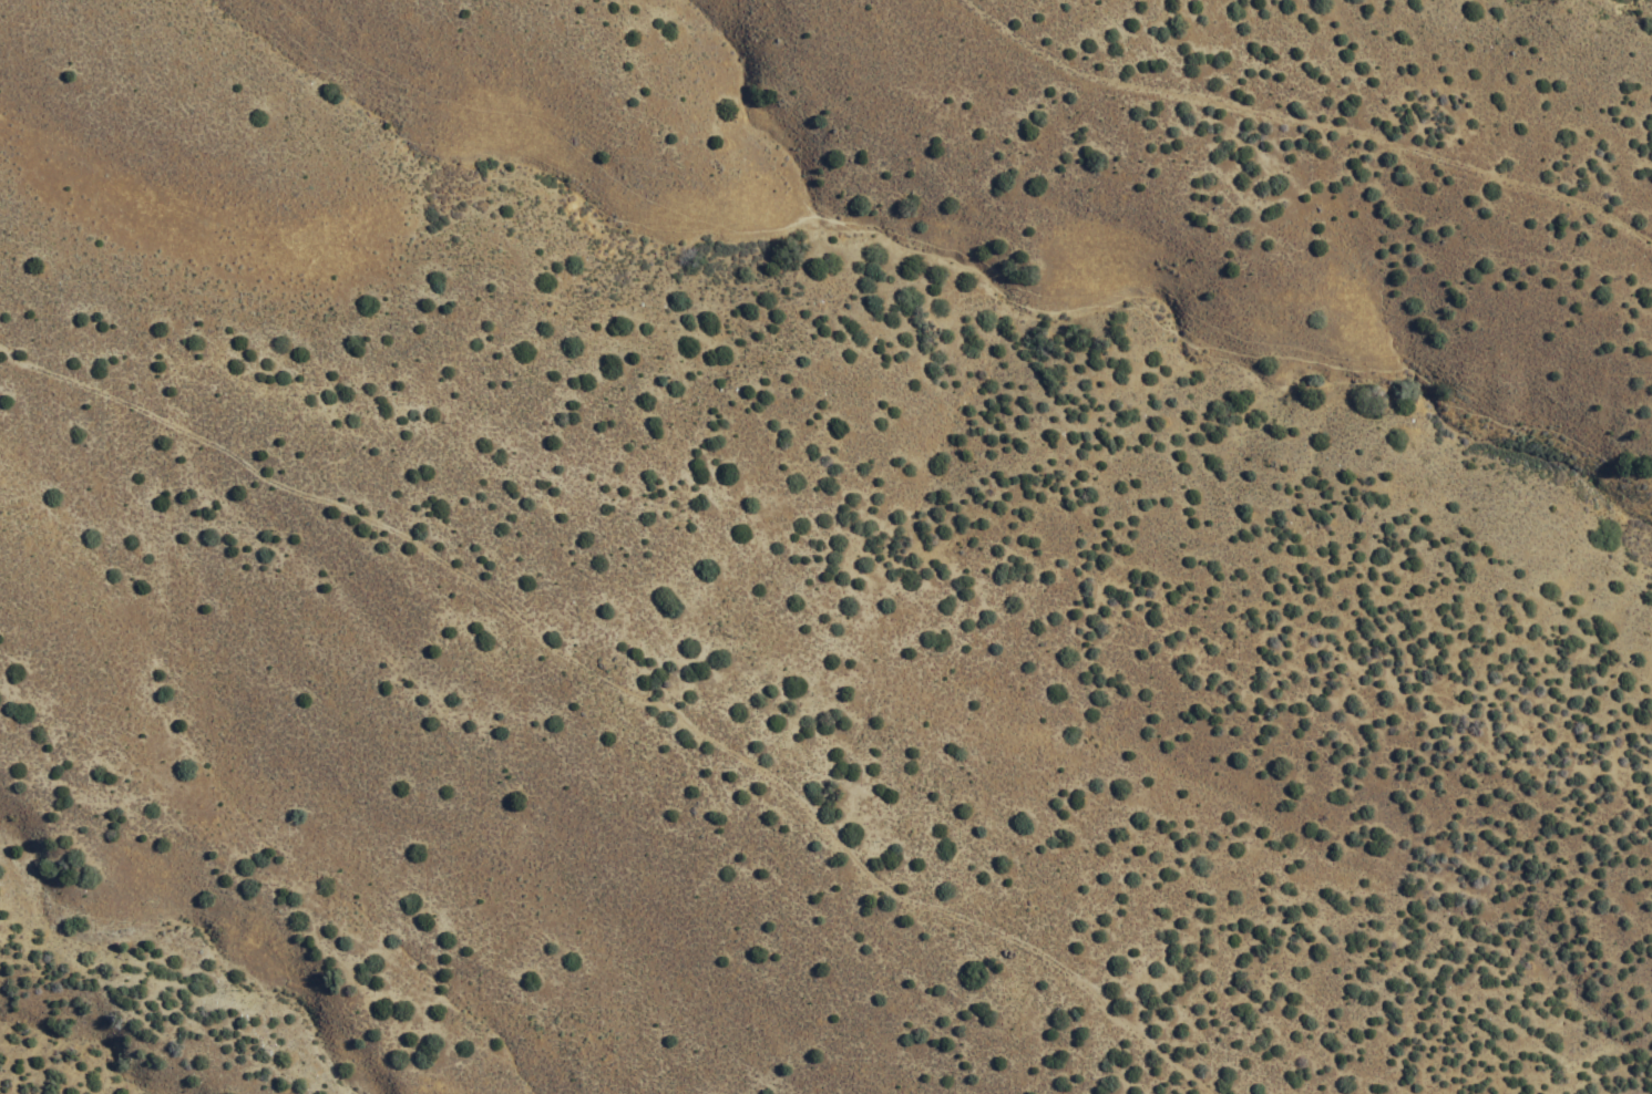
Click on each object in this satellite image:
road: (623, 690)

